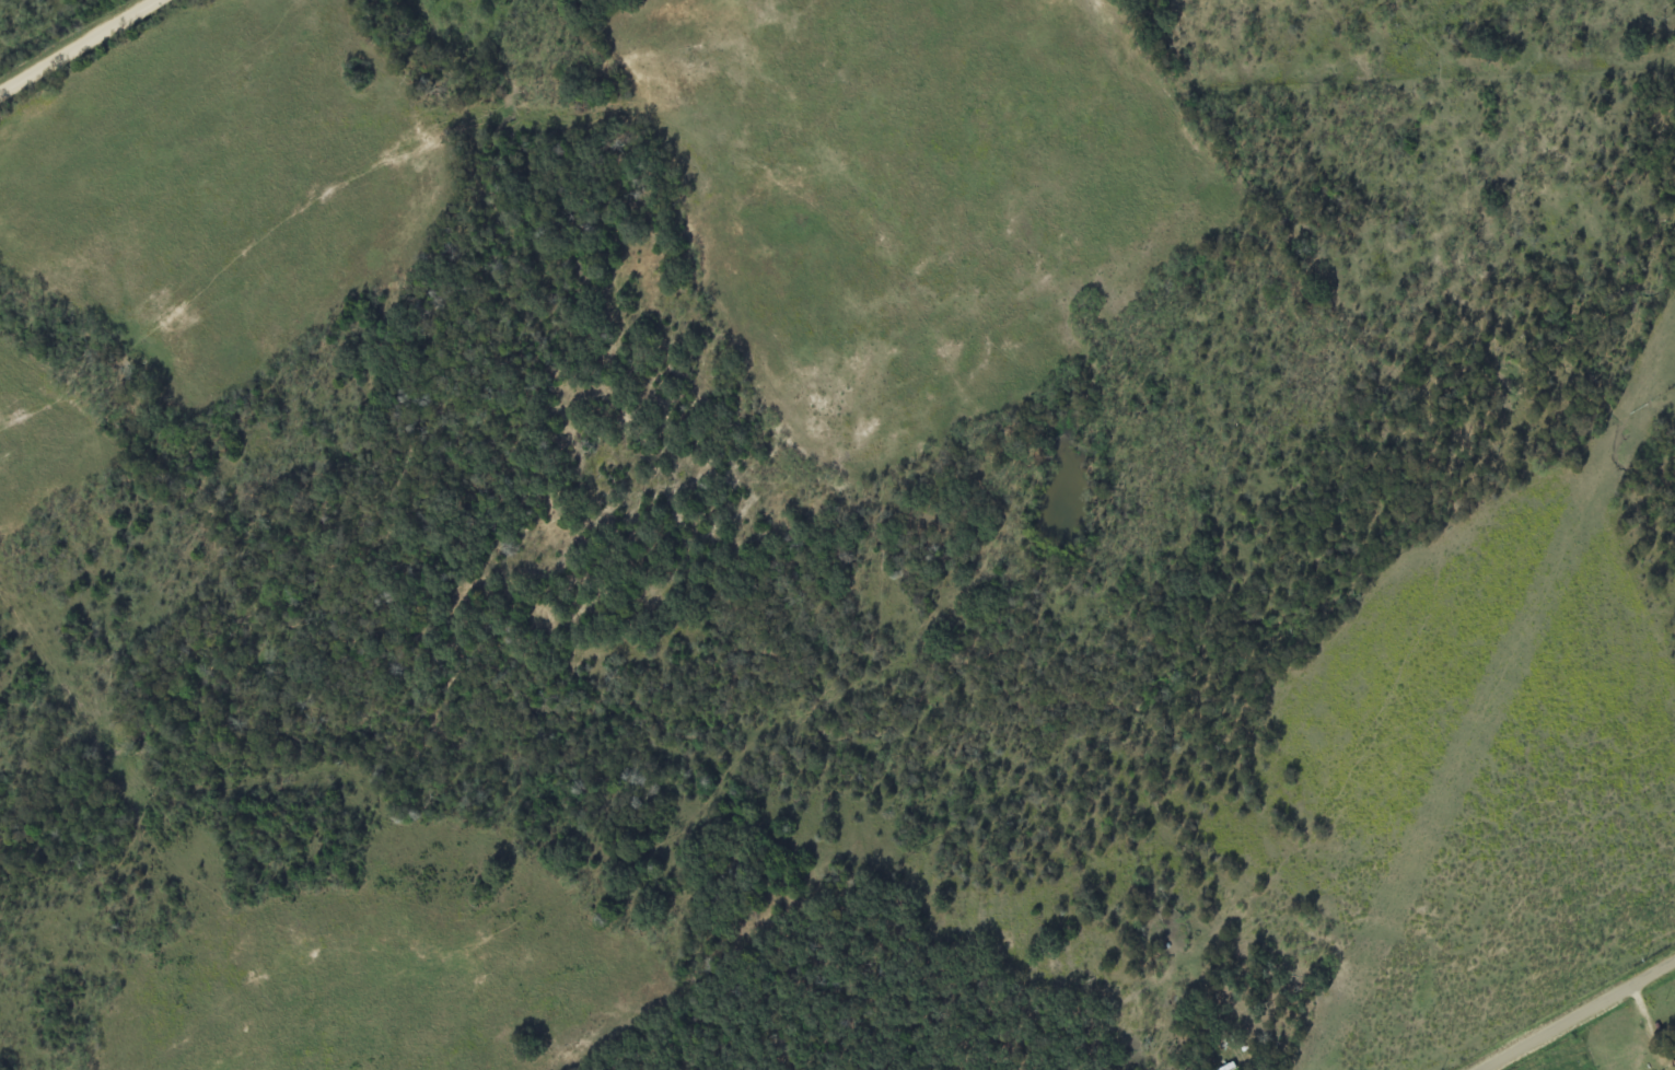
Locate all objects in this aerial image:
road: (81, 47)
road: (1582, 1019)

